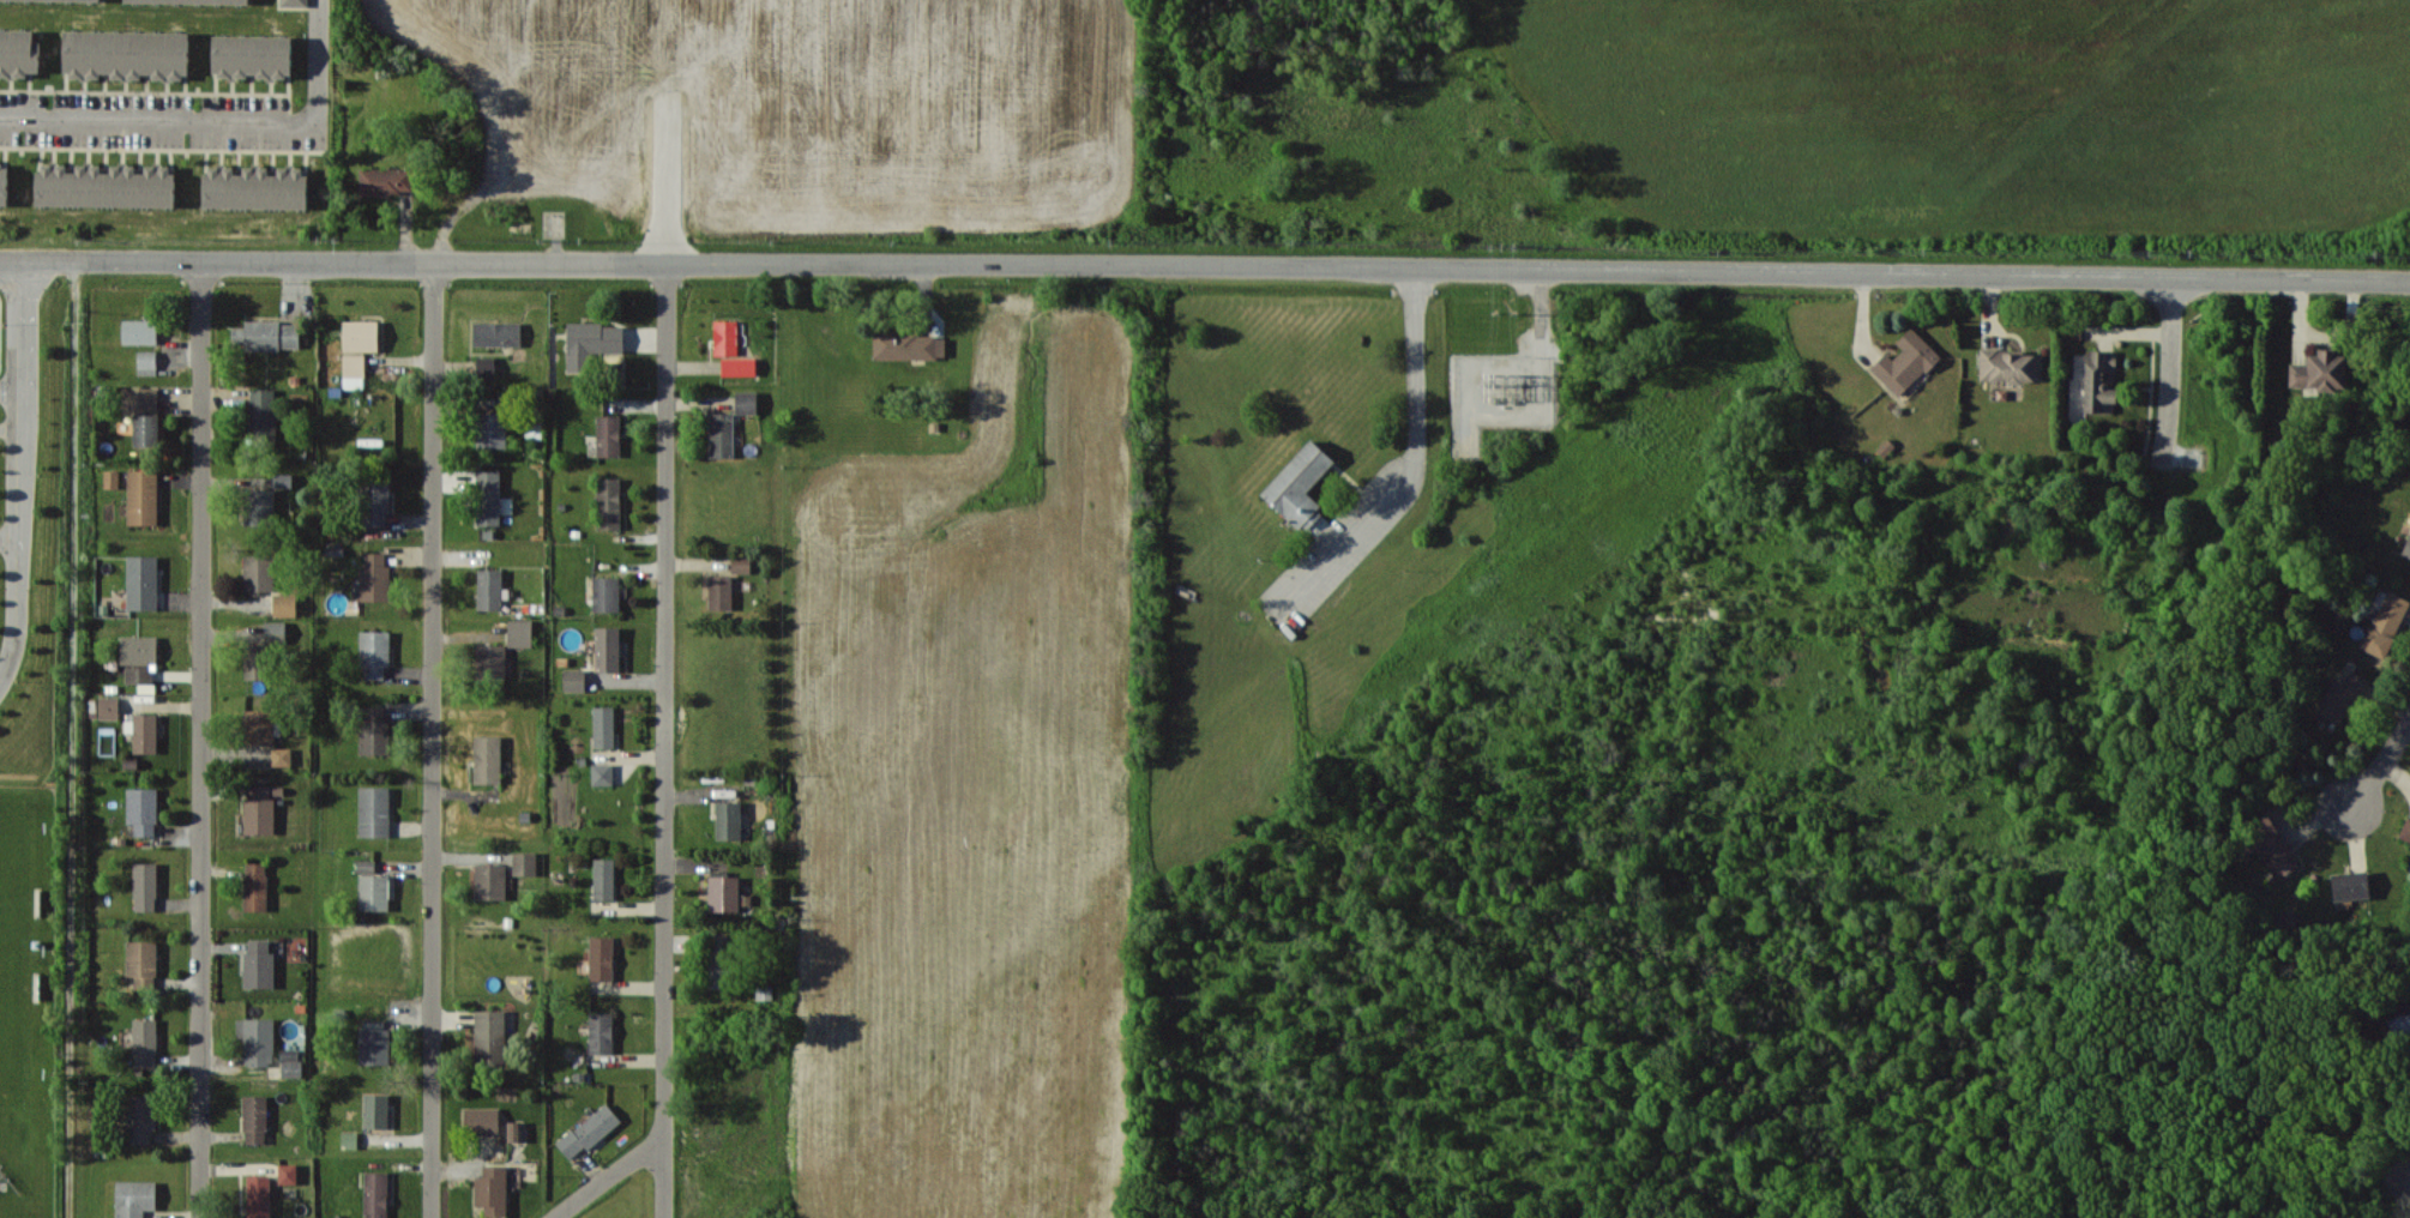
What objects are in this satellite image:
building: (68, 0)
building: (188, 1)
building: (294, 2)
building: (18, 53)
building: (126, 54)
building: (253, 55)
road: (216, 122)
building: (385, 181)
building: (4, 183)
building: (106, 185)
building: (255, 187)
road: (1205, 270)
building: (140, 331)
building: (498, 333)
building: (266, 336)
building: (361, 336)
building: (725, 337)
building: (592, 342)
building: (909, 345)
building: (147, 362)
building: (1906, 362)
building: (739, 366)
building: (2011, 366)
building: (487, 367)
road: (2170, 368)
building: (354, 370)
building: (2319, 370)
building: (2099, 380)
road: (11, 391)
building: (746, 402)
building: (144, 414)
building: (261, 416)
building: (492, 429)
building: (608, 435)
building: (722, 435)
road: (1417, 445)
road: (20, 471)
building: (112, 478)
building: (283, 480)
building: (1300, 486)
building: (143, 496)
building: (488, 496)
building: (376, 501)
building: (609, 502)
building: (259, 507)
road: (10, 535)
building: (2406, 548)
building: (741, 563)
building: (260, 573)
building: (375, 578)
building: (143, 583)
building: (490, 589)
building: (721, 591)
building: (607, 593)
building: (284, 604)
building: (2385, 625)
building: (276, 632)
building: (520, 632)
building: (608, 649)
building: (139, 650)
building: (375, 653)
building: (492, 659)
building: (257, 661)
building: (139, 674)
building: (574, 680)
building: (146, 688)
building: (2342, 694)
building: (108, 707)
building: (258, 726)
building: (603, 726)
building: (373, 730)
building: (143, 732)
road: (434, 738)
road: (201, 740)
road: (665, 742)
building: (282, 756)
building: (488, 759)
road: (2380, 771)
building: (602, 773)
building: (143, 809)
building: (259, 810)
building: (374, 810)
building: (729, 820)
building: (2406, 828)
building: (2267, 844)
building: (525, 863)
building: (366, 866)
building: (604, 878)
building: (490, 881)
building: (2350, 885)
building: (145, 886)
building: (255, 886)
building: (376, 892)
building: (724, 893)
park: (13, 942)
building: (602, 958)
building: (719, 960)
building: (143, 963)
building: (259, 964)
building: (2400, 1021)
building: (601, 1032)
building: (490, 1036)
building: (257, 1039)
building: (145, 1042)
building: (374, 1045)
building: (291, 1062)
building: (376, 1110)
building: (140, 1117)
building: (255, 1118)
building: (482, 1121)
building: (516, 1130)
building: (589, 1130)
building: (349, 1139)
building: (288, 1174)
road: (610, 1180)
building: (493, 1189)
building: (375, 1194)
building: (259, 1196)
building: (135, 1198)

